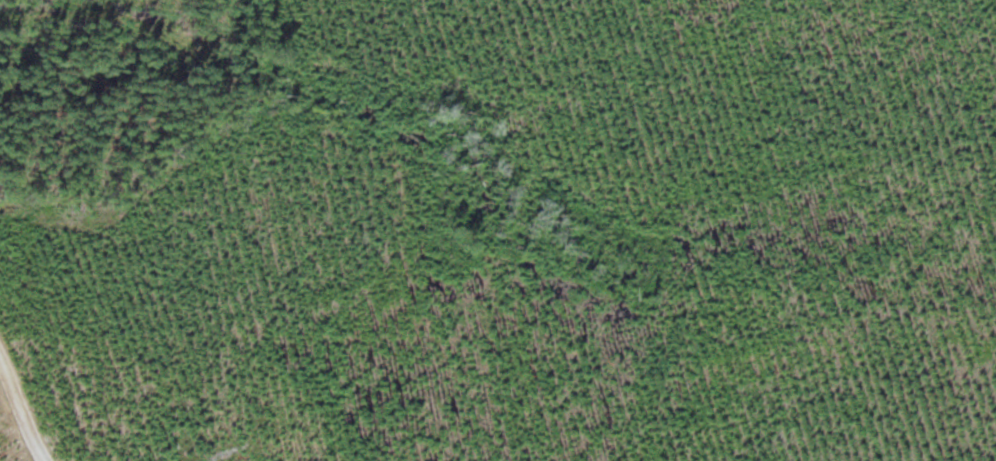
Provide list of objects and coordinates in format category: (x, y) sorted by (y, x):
road: (14, 438)

